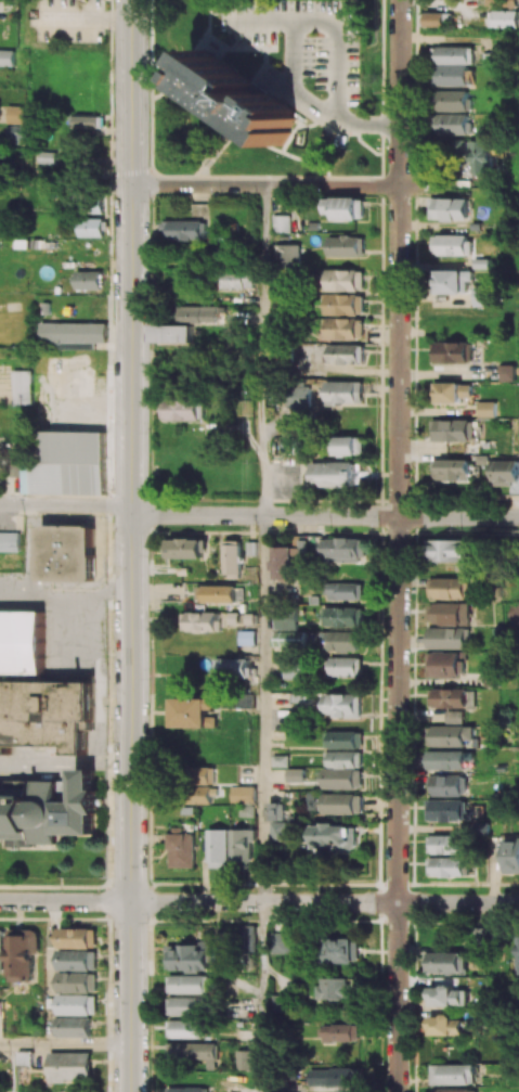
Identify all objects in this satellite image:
building: (434, 18)
building: (504, 18)
road: (290, 39)
building: (455, 54)
building: (7, 56)
building: (453, 75)
building: (242, 97)
building: (454, 100)
building: (14, 114)
building: (86, 120)
building: (454, 124)
building: (15, 132)
building: (473, 155)
building: (79, 169)
road: (267, 184)
building: (94, 206)
building: (345, 207)
building: (449, 208)
building: (281, 223)
building: (91, 227)
building: (184, 229)
building: (453, 244)
building: (346, 245)
building: (286, 255)
building: (88, 279)
building: (238, 279)
building: (345, 280)
building: (451, 281)
building: (483, 295)
building: (345, 304)
building: (198, 313)
building: (345, 327)
building: (172, 333)
building: (74, 334)
road: (263, 350)
building: (455, 351)
building: (346, 352)
building: (507, 372)
building: (23, 386)
building: (452, 390)
building: (343, 391)
building: (299, 396)
building: (486, 408)
building: (186, 409)
building: (455, 429)
building: (350, 445)
building: (67, 464)
building: (451, 468)
building: (505, 472)
building: (336, 474)
road: (66, 504)
road: (325, 516)
building: (9, 541)
road: (131, 545)
road: (399, 545)
building: (186, 548)
building: (345, 549)
building: (446, 550)
building: (66, 552)
building: (232, 556)
building: (285, 561)
building: (447, 588)
building: (346, 590)
building: (218, 593)
building: (452, 613)
building: (512, 613)
building: (342, 616)
building: (204, 620)
building: (289, 638)
building: (446, 638)
building: (343, 640)
building: (21, 642)
building: (445, 664)
building: (346, 666)
building: (233, 667)
building: (295, 668)
building: (491, 679)
building: (450, 697)
building: (343, 705)
road: (262, 709)
building: (194, 711)
building: (46, 714)
building: (455, 716)
building: (452, 735)
building: (347, 738)
building: (446, 759)
building: (281, 760)
building: (345, 770)
building: (296, 774)
building: (205, 784)
building: (450, 784)
building: (244, 794)
building: (343, 802)
building: (49, 809)
building: (449, 810)
building: (277, 811)
building: (281, 830)
building: (338, 836)
building: (451, 844)
building: (244, 845)
building: (219, 847)
building: (182, 849)
building: (510, 855)
building: (449, 865)
road: (259, 902)
building: (77, 937)
building: (247, 938)
building: (280, 942)
building: (1, 949)
building: (341, 950)
building: (23, 953)
building: (517, 953)
building: (77, 959)
building: (445, 962)
building: (77, 981)
building: (191, 984)
building: (334, 987)
building: (447, 995)
road: (261, 997)
building: (77, 1003)
building: (190, 1005)
building: (445, 1025)
building: (74, 1026)
building: (190, 1028)
building: (339, 1031)
road: (65, 1045)
building: (194, 1051)
building: (24, 1057)
building: (245, 1058)
building: (69, 1066)
building: (453, 1074)
building: (335, 1076)
building: (191, 1089)
building: (455, 1090)

